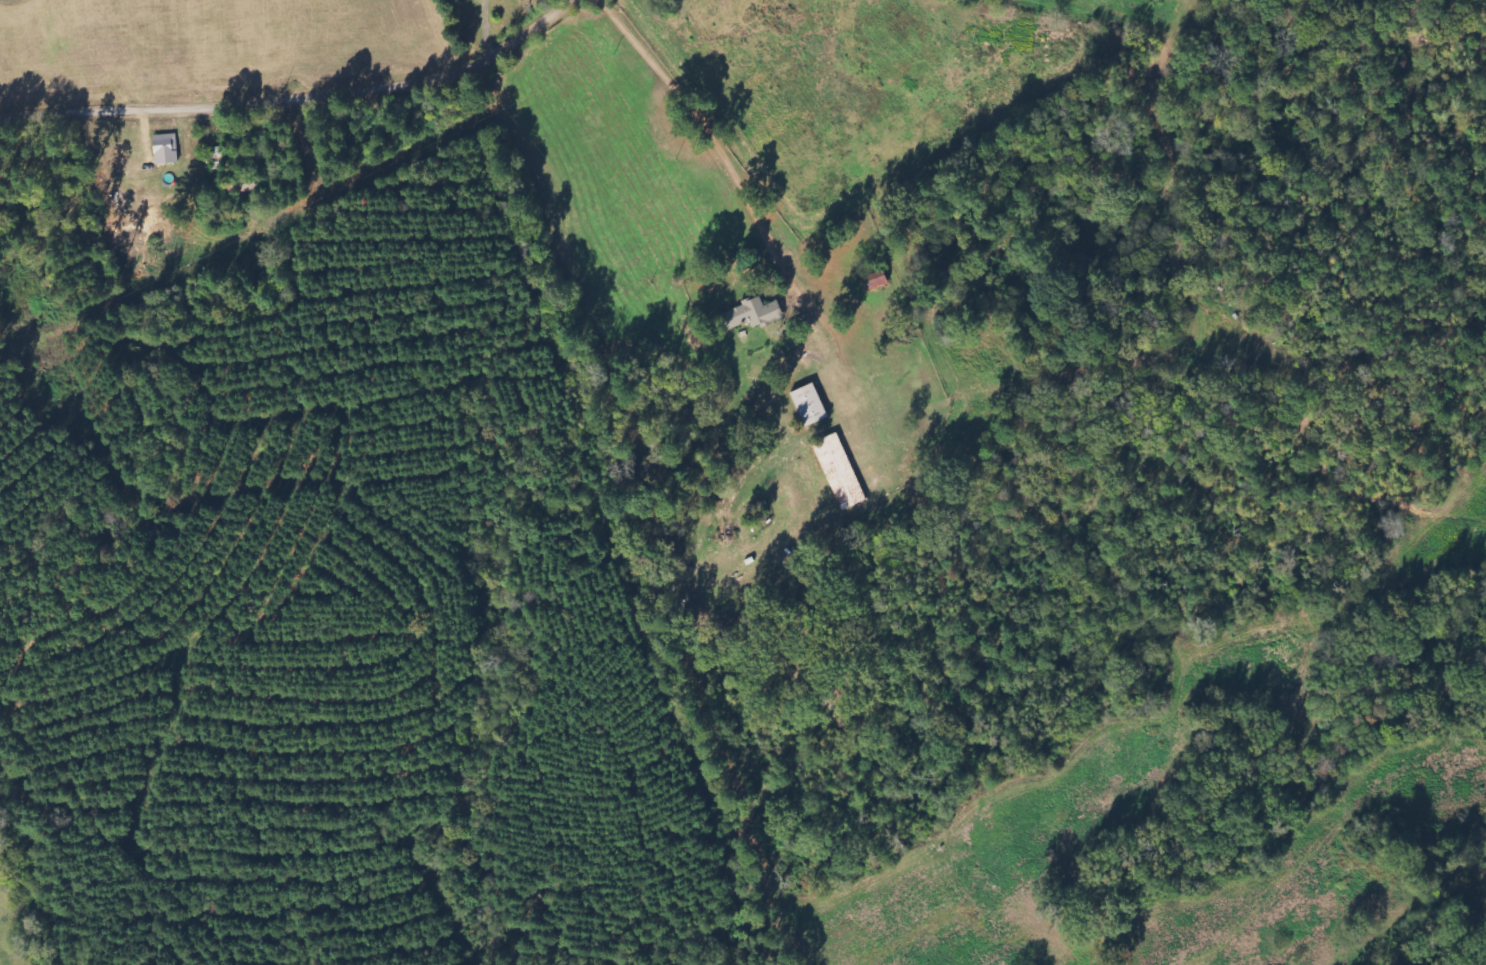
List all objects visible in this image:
road: (258, 68)
road: (697, 130)
building: (165, 148)
building: (875, 278)
building: (750, 313)
building: (807, 403)
building: (838, 471)

